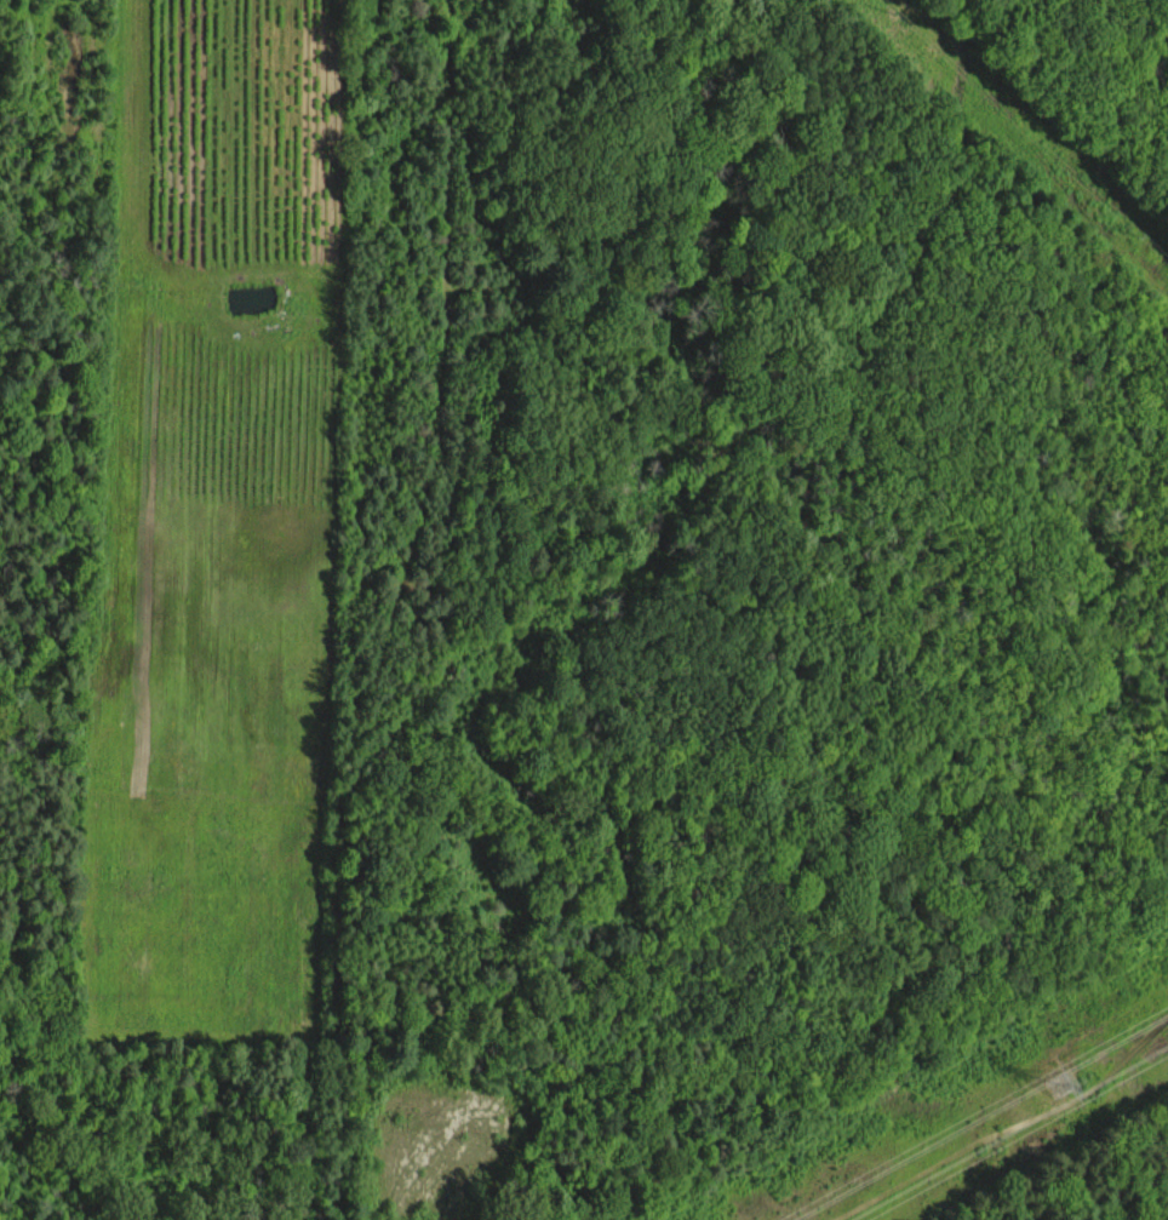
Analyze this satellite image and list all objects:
power tower: (1058, 1083)

